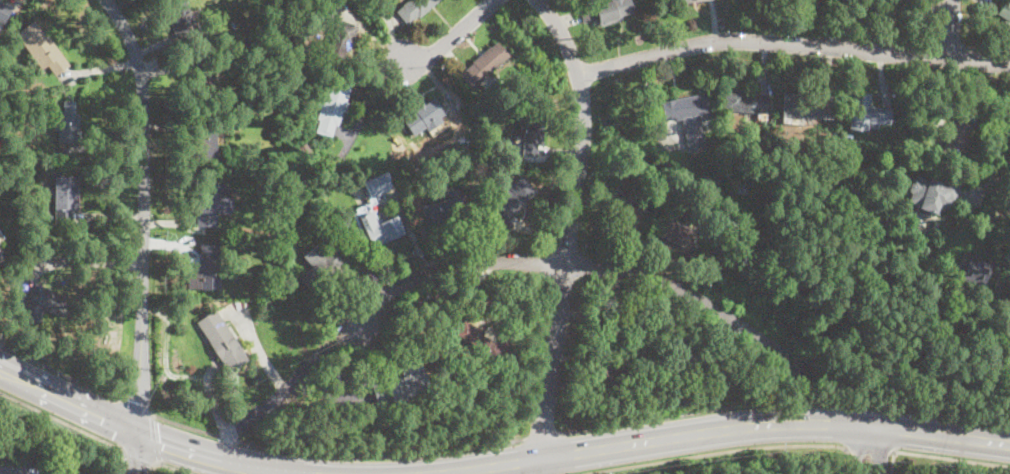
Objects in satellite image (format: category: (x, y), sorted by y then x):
building: (683, 0)
building: (799, 1)
building: (414, 9)
building: (882, 9)
building: (4, 10)
building: (1005, 10)
building: (607, 12)
building: (178, 15)
road: (939, 21)
road: (951, 27)
road: (561, 34)
road: (447, 39)
road: (892, 39)
building: (341, 40)
road: (792, 40)
road: (953, 43)
road: (988, 47)
building: (41, 48)
building: (485, 65)
building: (203, 75)
building: (743, 101)
building: (331, 105)
building: (807, 107)
building: (866, 112)
building: (421, 115)
building: (688, 118)
building: (67, 124)
building: (533, 130)
road: (998, 133)
building: (957, 138)
building: (205, 143)
building: (304, 148)
building: (483, 163)
building: (718, 178)
building: (376, 185)
building: (742, 186)
building: (932, 194)
building: (65, 195)
building: (512, 197)
building: (206, 202)
building: (625, 209)
road: (142, 211)
building: (442, 211)
building: (382, 229)
building: (677, 233)
building: (0, 249)
building: (50, 252)
building: (63, 253)
building: (1, 254)
road: (487, 259)
building: (209, 266)
road: (564, 266)
building: (319, 268)
building: (972, 271)
building: (1000, 286)
building: (443, 294)
building: (44, 302)
building: (608, 330)
building: (217, 334)
building: (488, 346)
building: (709, 351)
building: (684, 360)
road: (58, 371)
building: (599, 375)
building: (341, 379)
building: (639, 381)
building: (400, 386)
road: (68, 401)
road: (786, 402)
road: (132, 404)
road: (64, 421)
road: (117, 423)
road: (728, 431)
traffic signals: (138, 433)
road: (544, 433)
road: (153, 438)
road: (334, 450)
road: (869, 451)
road: (871, 451)
road: (711, 452)
road: (137, 453)
road: (941, 456)
road: (212, 459)
road: (139, 460)
parking lot: (22, 462)
road: (23, 463)
road: (173, 468)
road: (153, 469)
building: (64, 471)

